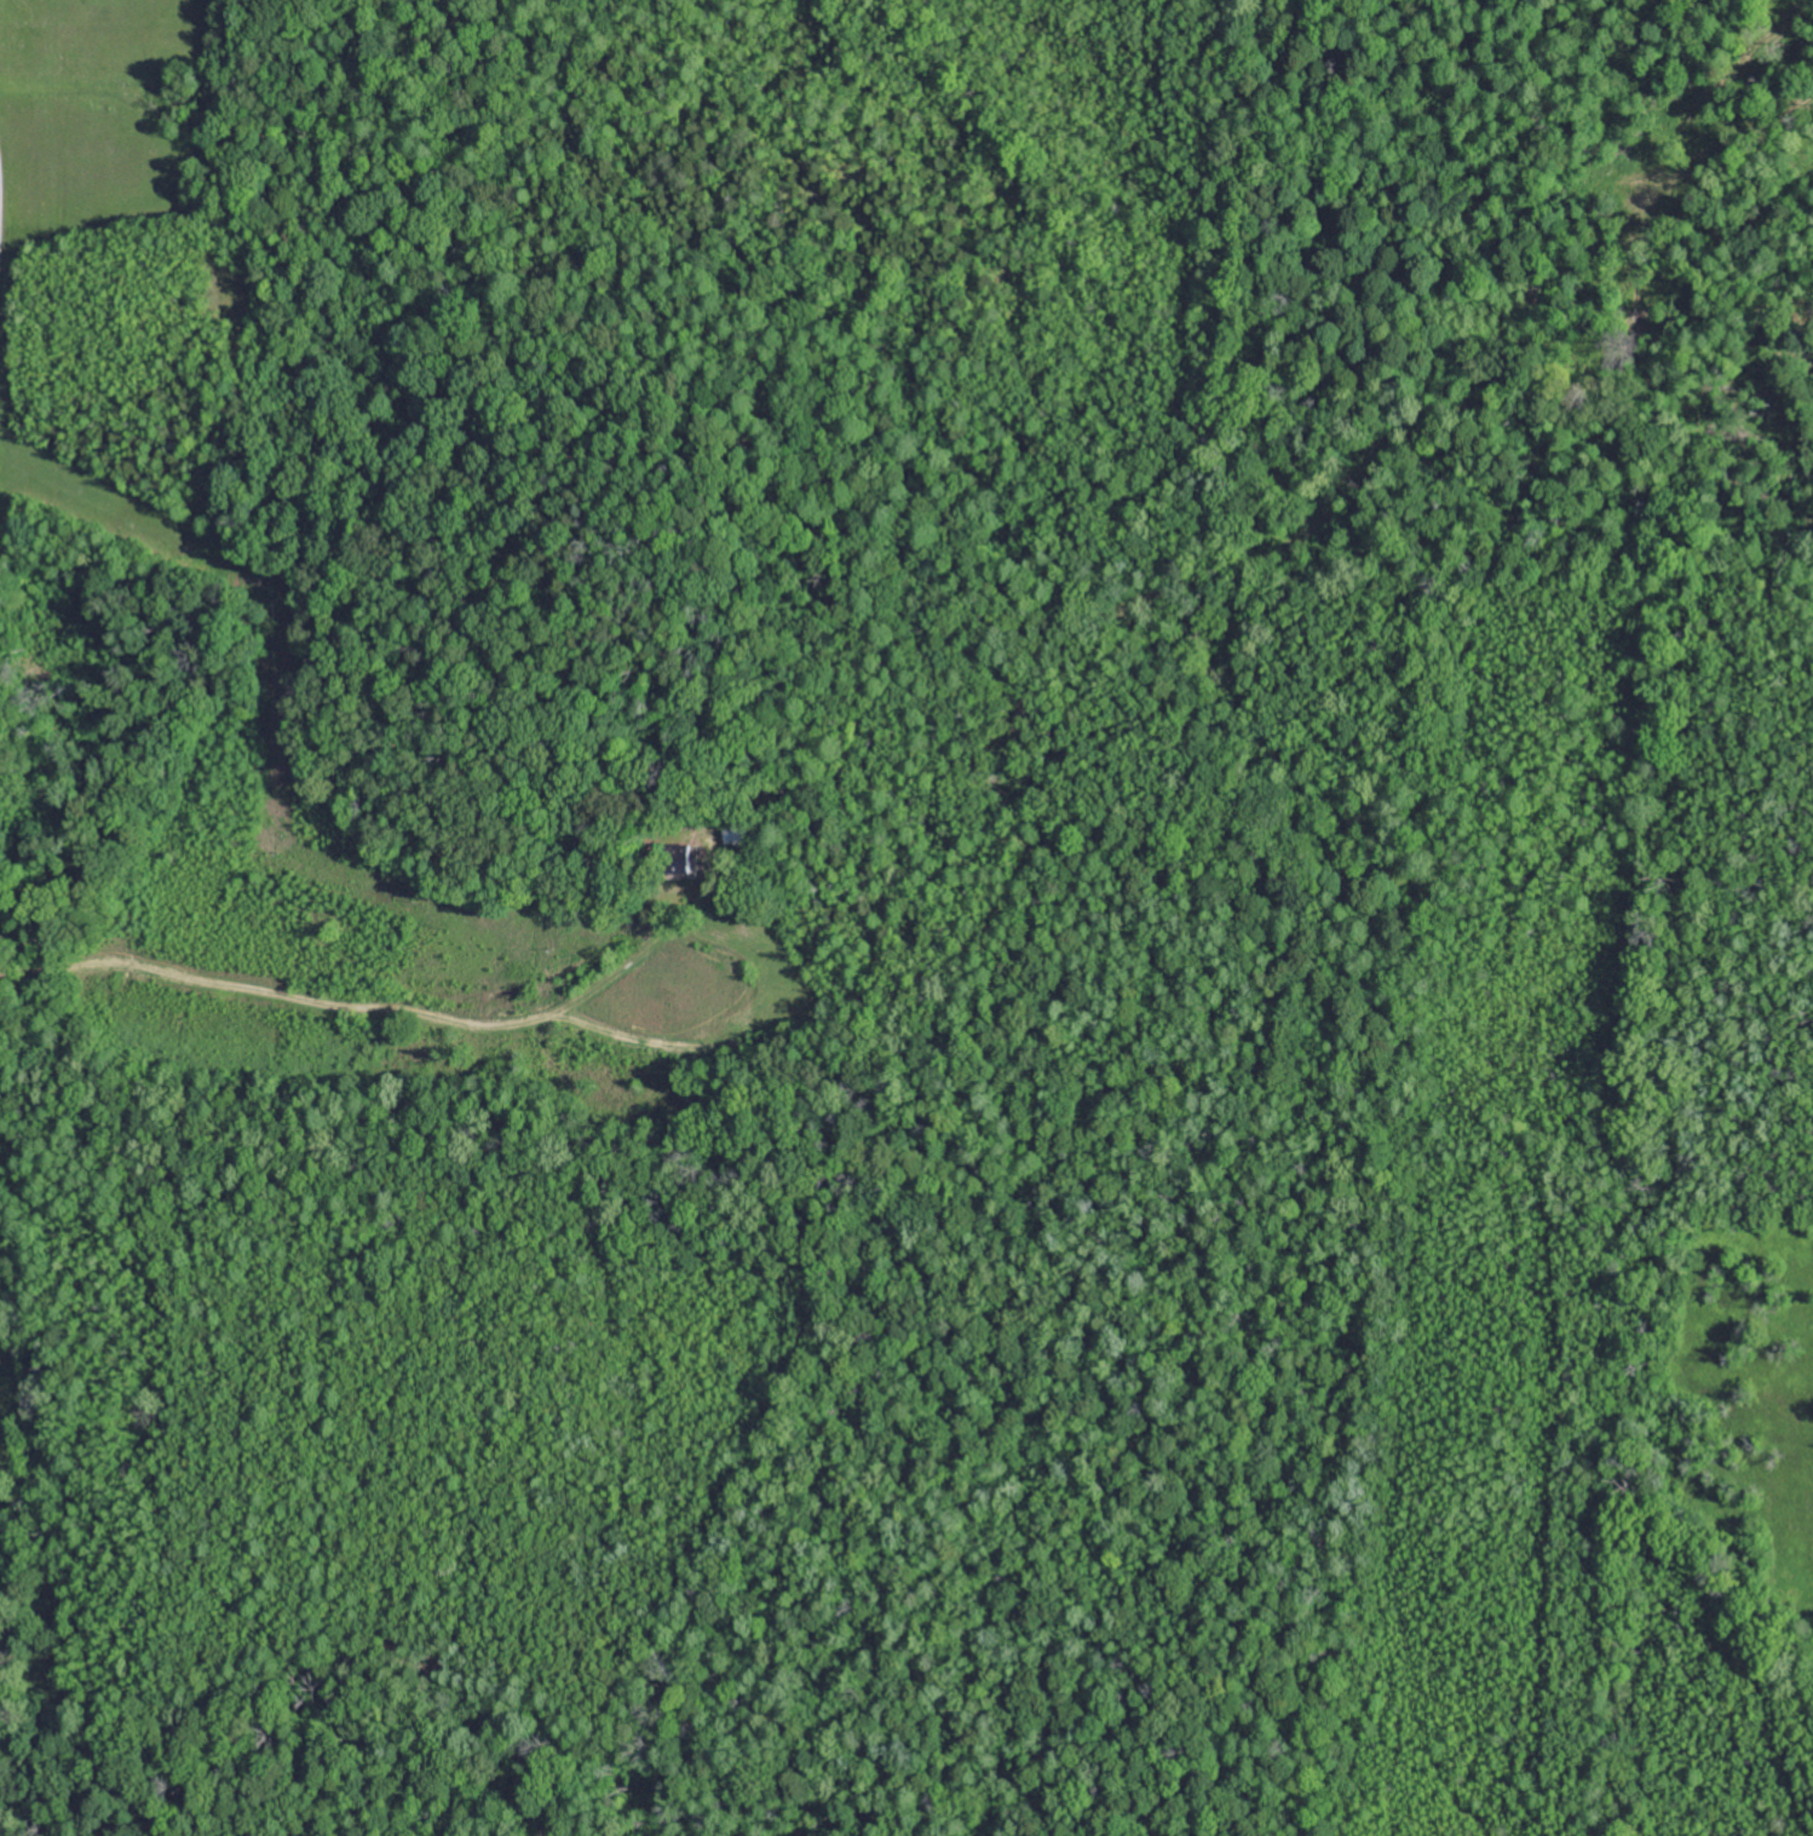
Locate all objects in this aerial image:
road: (767, 991)

